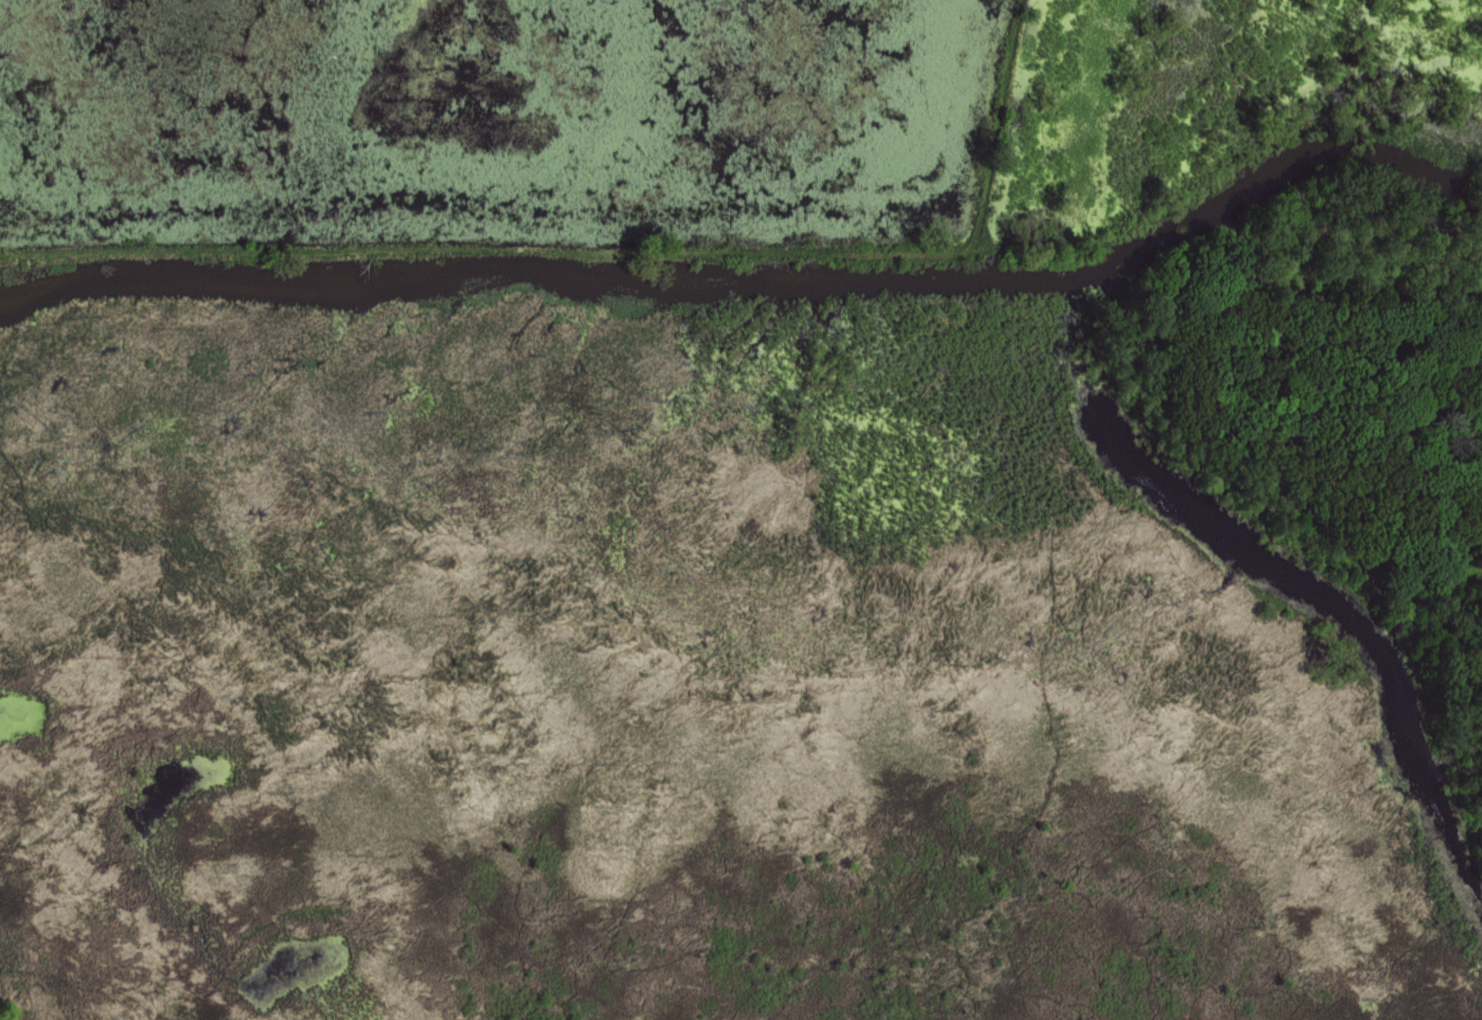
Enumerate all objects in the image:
river: (763, 277)

